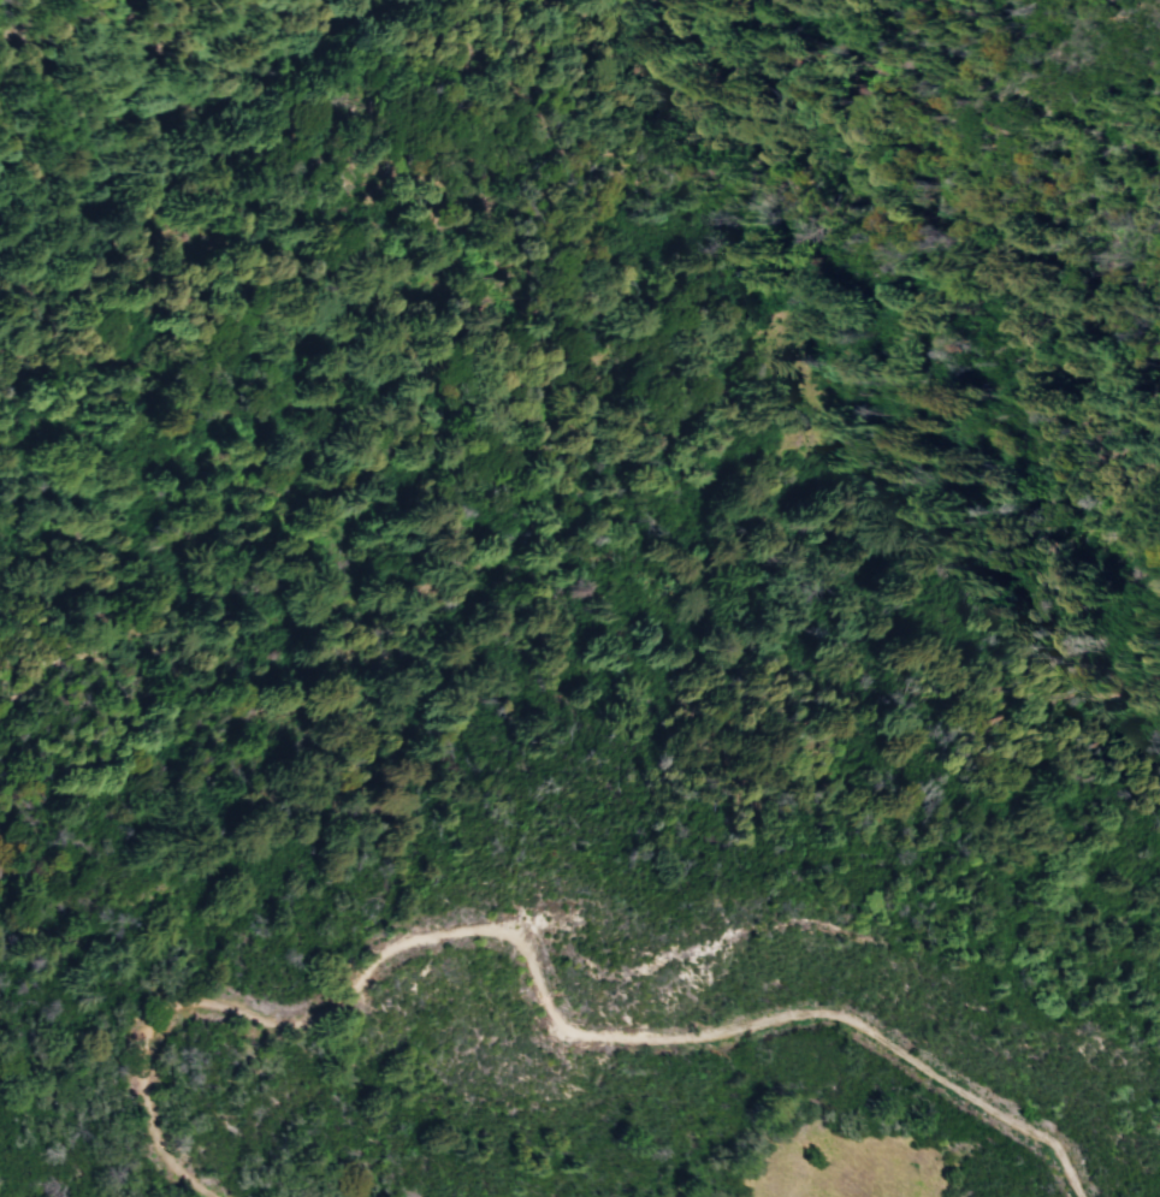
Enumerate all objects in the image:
road: (165, 644)
road: (732, 938)
road: (533, 977)

